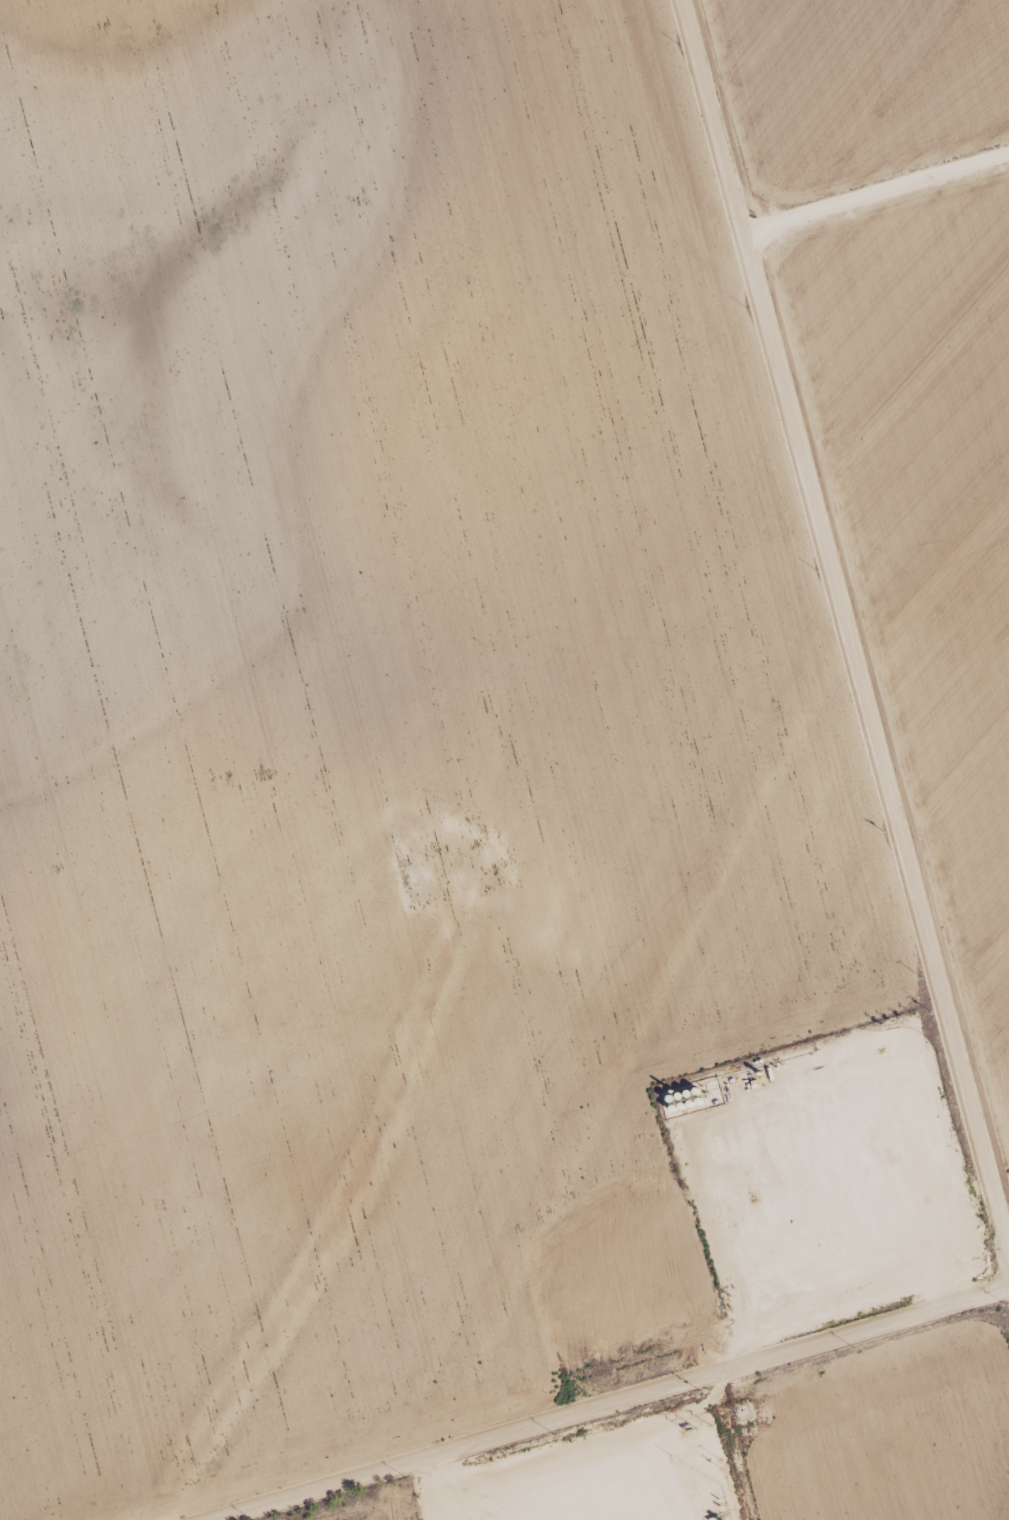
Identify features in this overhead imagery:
building: (216, 594)
road: (843, 629)
road: (621, 1407)

